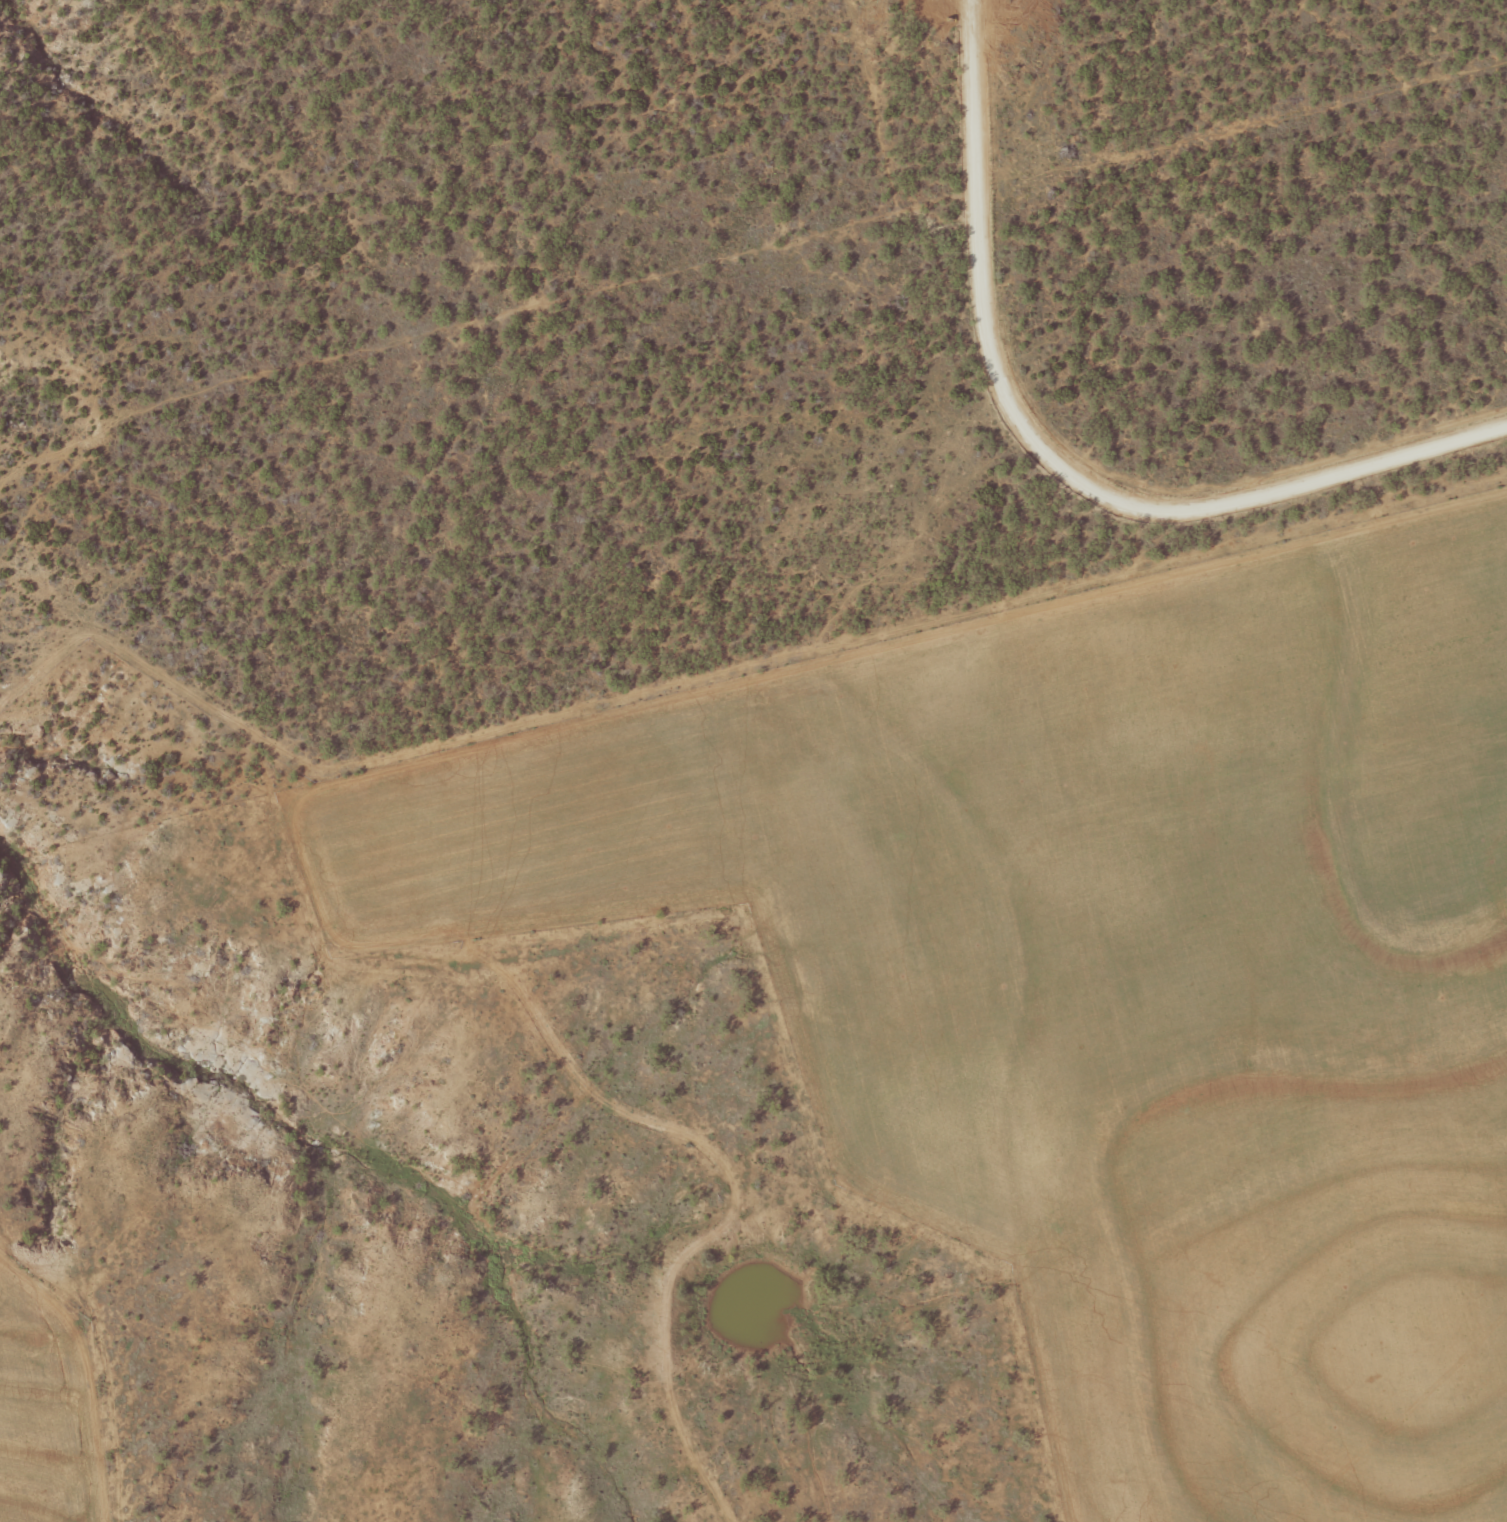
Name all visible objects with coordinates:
road: (1044, 456)
road: (890, 1167)

